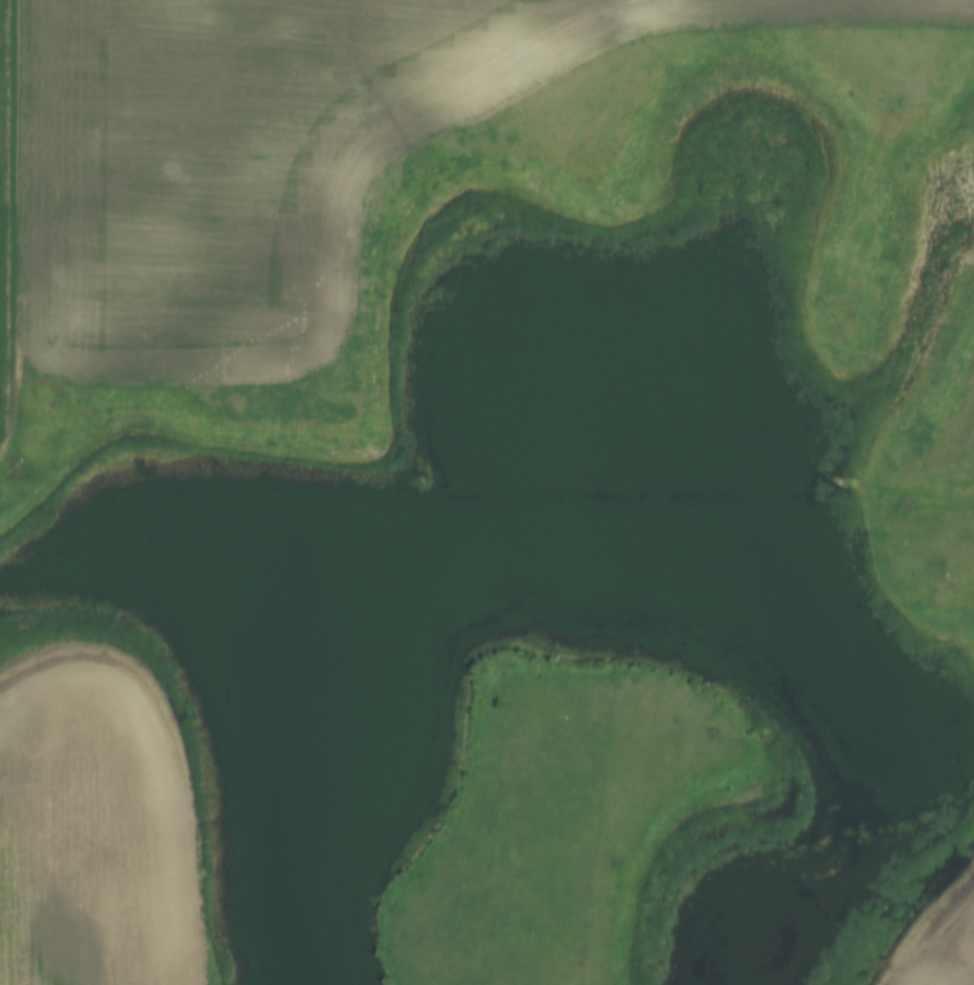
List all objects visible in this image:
road: (964, 501)
road: (946, 635)

